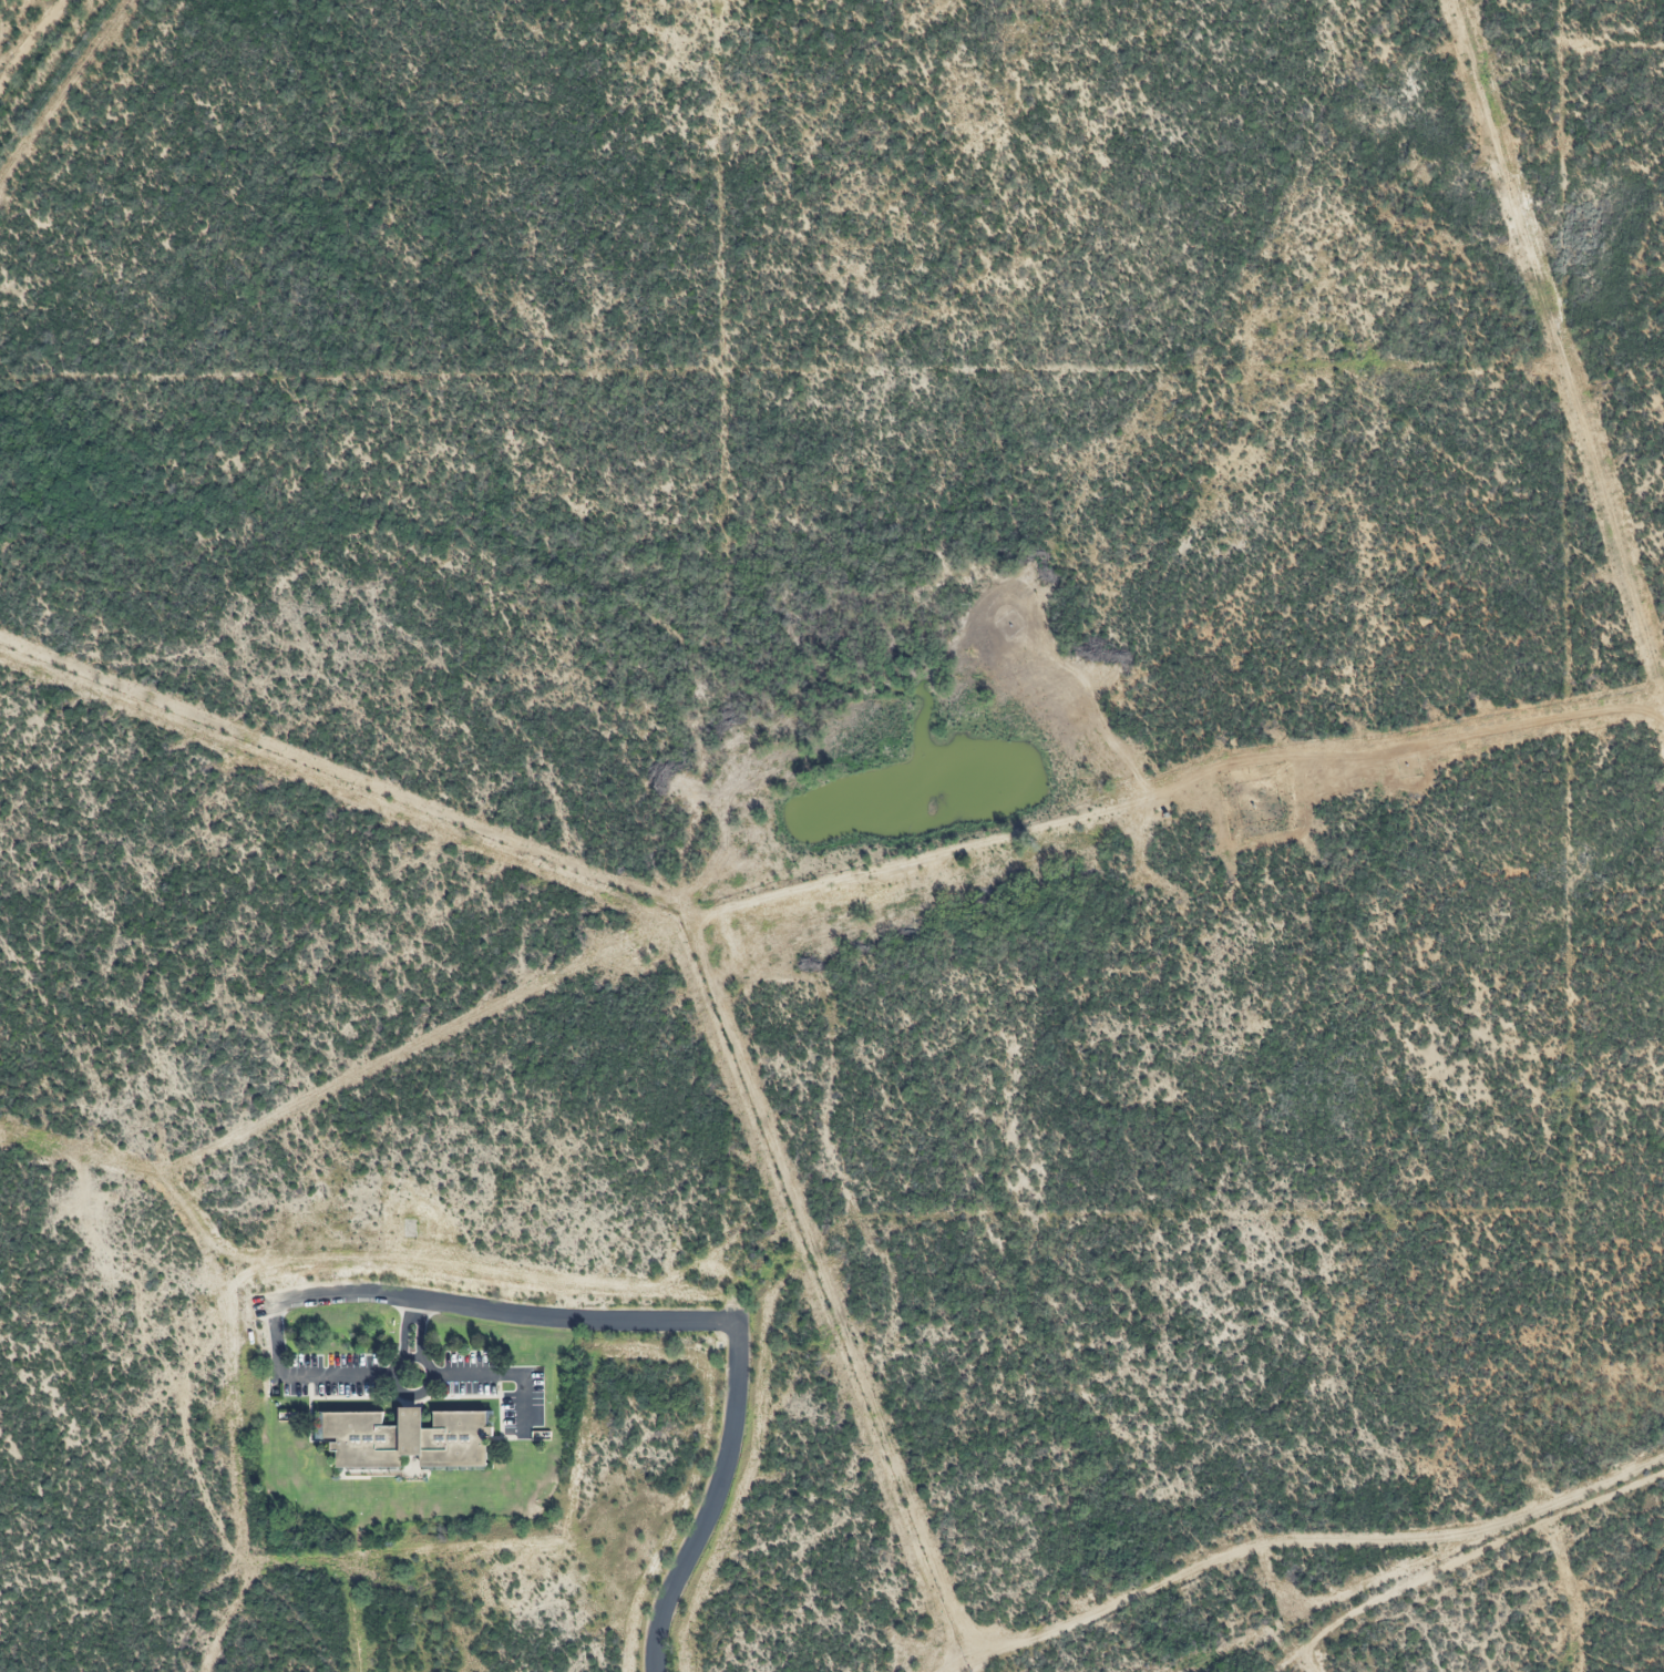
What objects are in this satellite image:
road: (64, 92)
road: (596, 1323)
road: (403, 1329)
road: (420, 1330)
road: (391, 1367)
road: (505, 1375)
building: (408, 1440)

